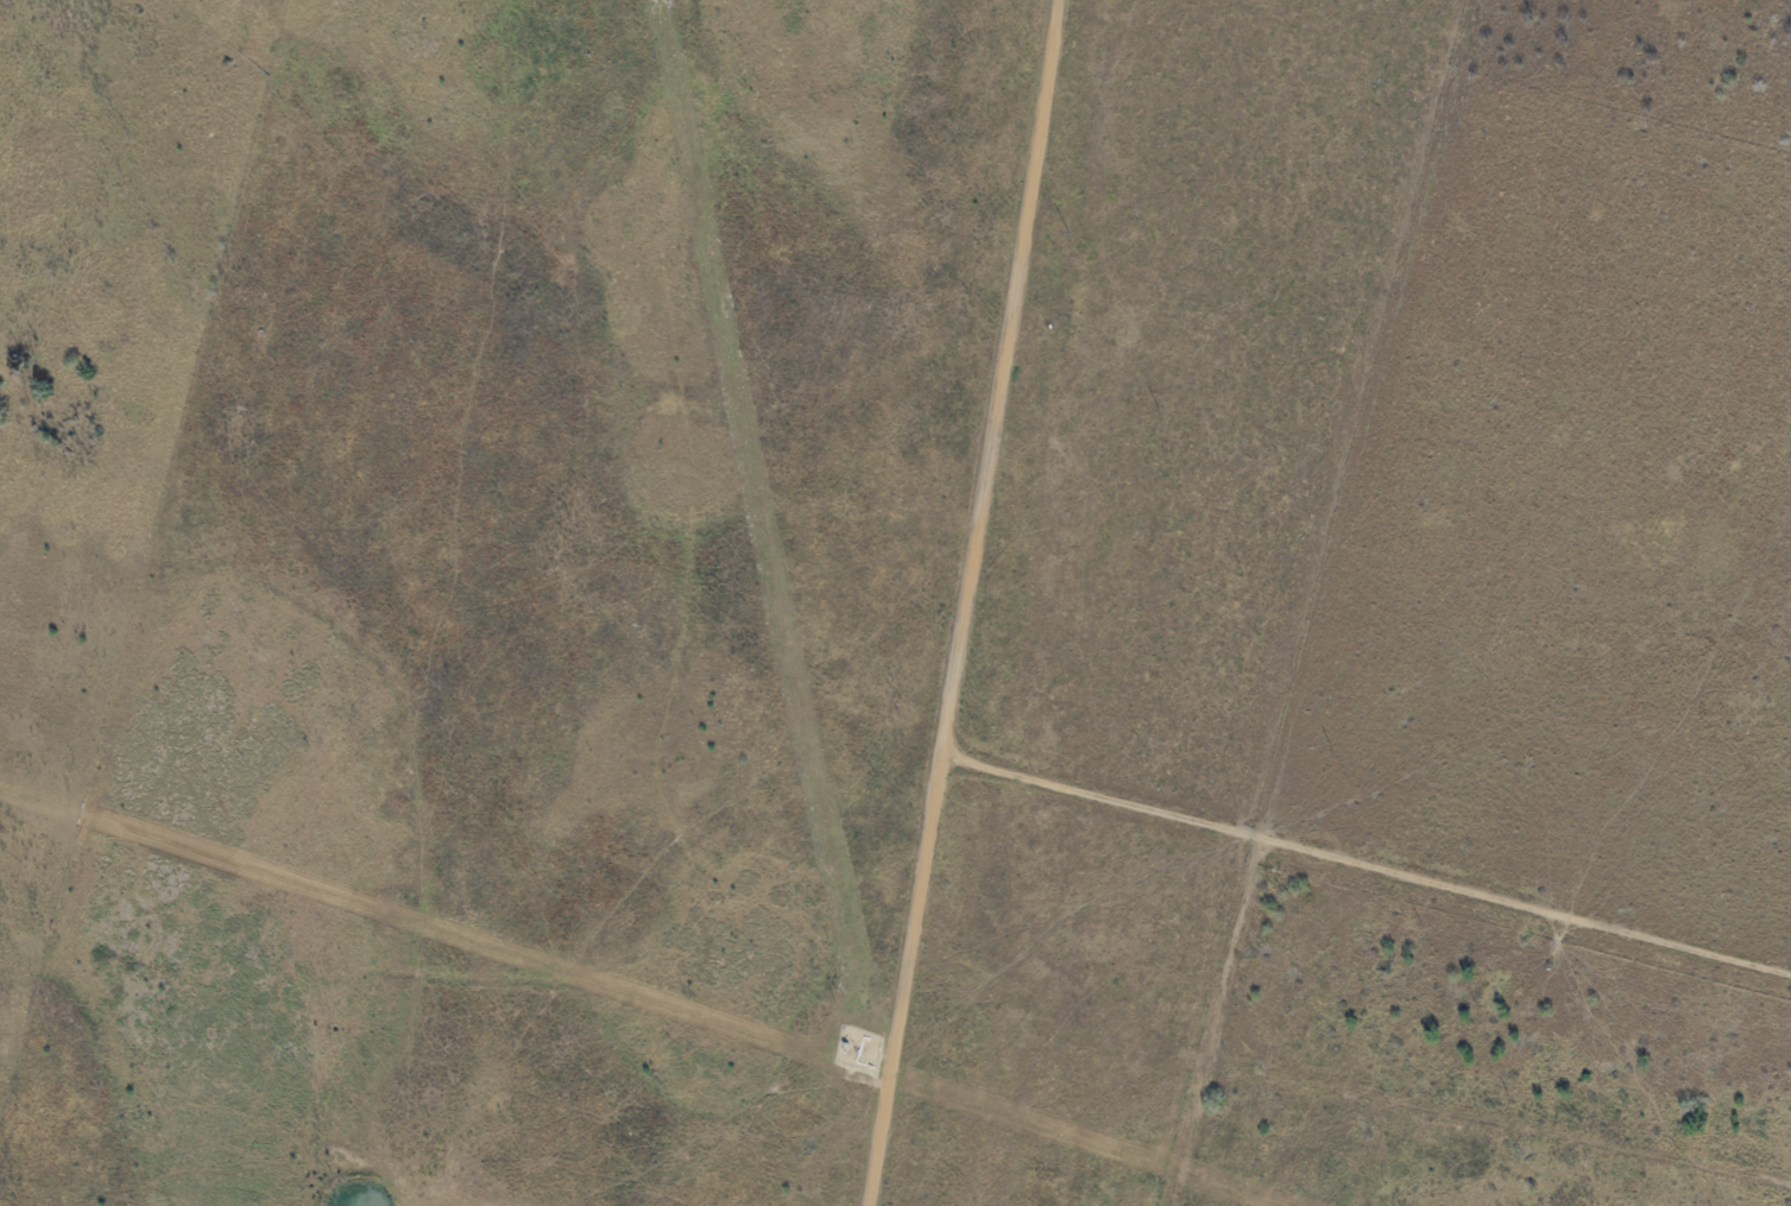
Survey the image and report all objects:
road: (966, 602)

